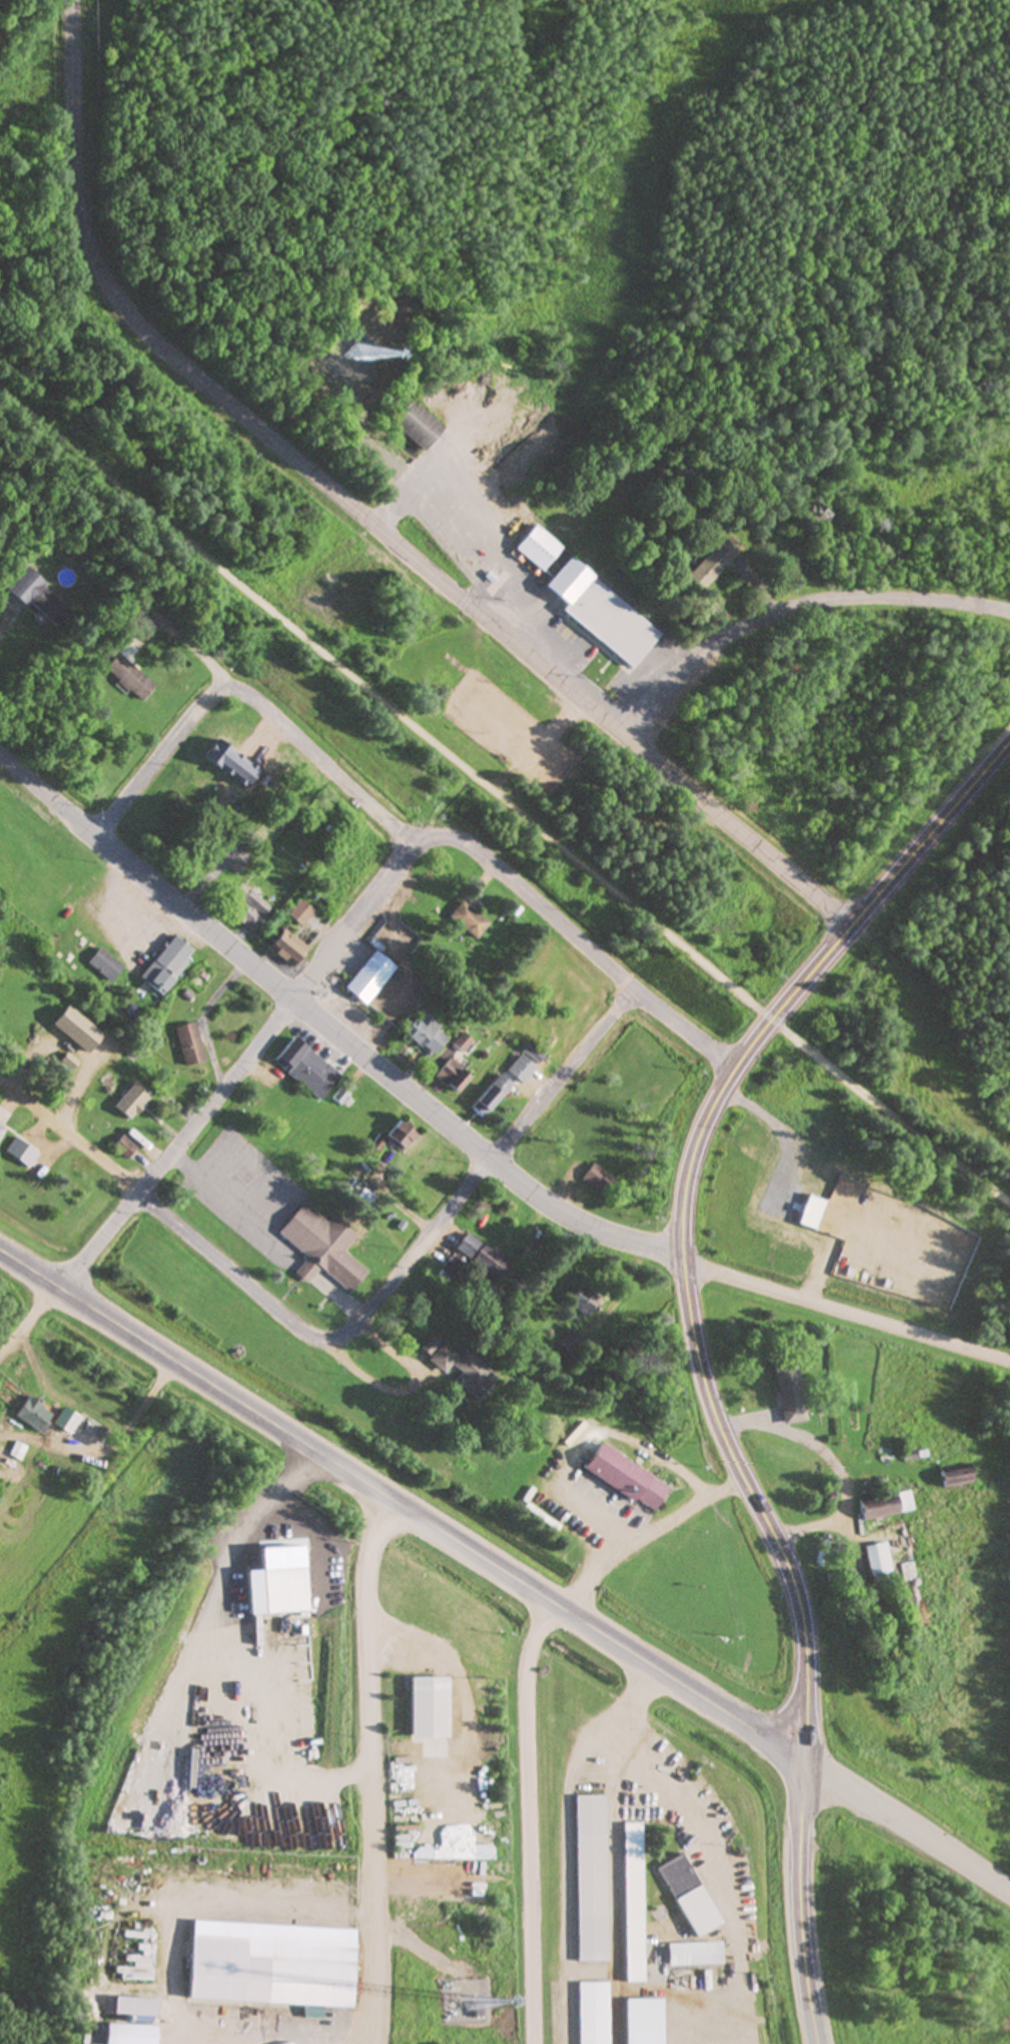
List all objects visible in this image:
park: (587, 336)
building: (413, 426)
building: (818, 513)
road: (365, 516)
building: (710, 565)
building: (38, 597)
building: (587, 600)
road: (794, 606)
building: (127, 677)
road: (167, 748)
building: (215, 754)
road: (503, 797)
road: (102, 825)
road: (489, 862)
road: (364, 905)
building: (247, 908)
building: (299, 913)
building: (467, 920)
building: (285, 948)
building: (103, 964)
building: (166, 964)
building: (369, 977)
building: (200, 978)
building: (423, 1034)
building: (461, 1042)
building: (189, 1043)
building: (305, 1067)
building: (520, 1069)
building: (450, 1074)
building: (489, 1096)
building: (131, 1101)
building: (372, 1117)
building: (0, 1129)
road: (186, 1133)
building: (398, 1135)
road: (463, 1135)
building: (20, 1152)
road: (485, 1164)
building: (565, 1169)
building: (594, 1177)
building: (875, 1179)
building: (862, 1206)
road: (165, 1214)
building: (321, 1247)
building: (480, 1256)
building: (580, 1300)
building: (568, 1343)
road: (697, 1347)
building: (458, 1367)
building: (788, 1393)
building: (33, 1415)
building: (16, 1451)
building: (624, 1478)
building: (954, 1478)
building: (884, 1505)
building: (876, 1559)
road: (503, 1572)
building: (427, 1708)
building: (676, 1877)
building: (589, 1878)
building: (692, 1955)
building: (139, 1959)
building: (296, 1976)
building: (133, 2007)
building: (658, 2025)
building: (127, 2034)

